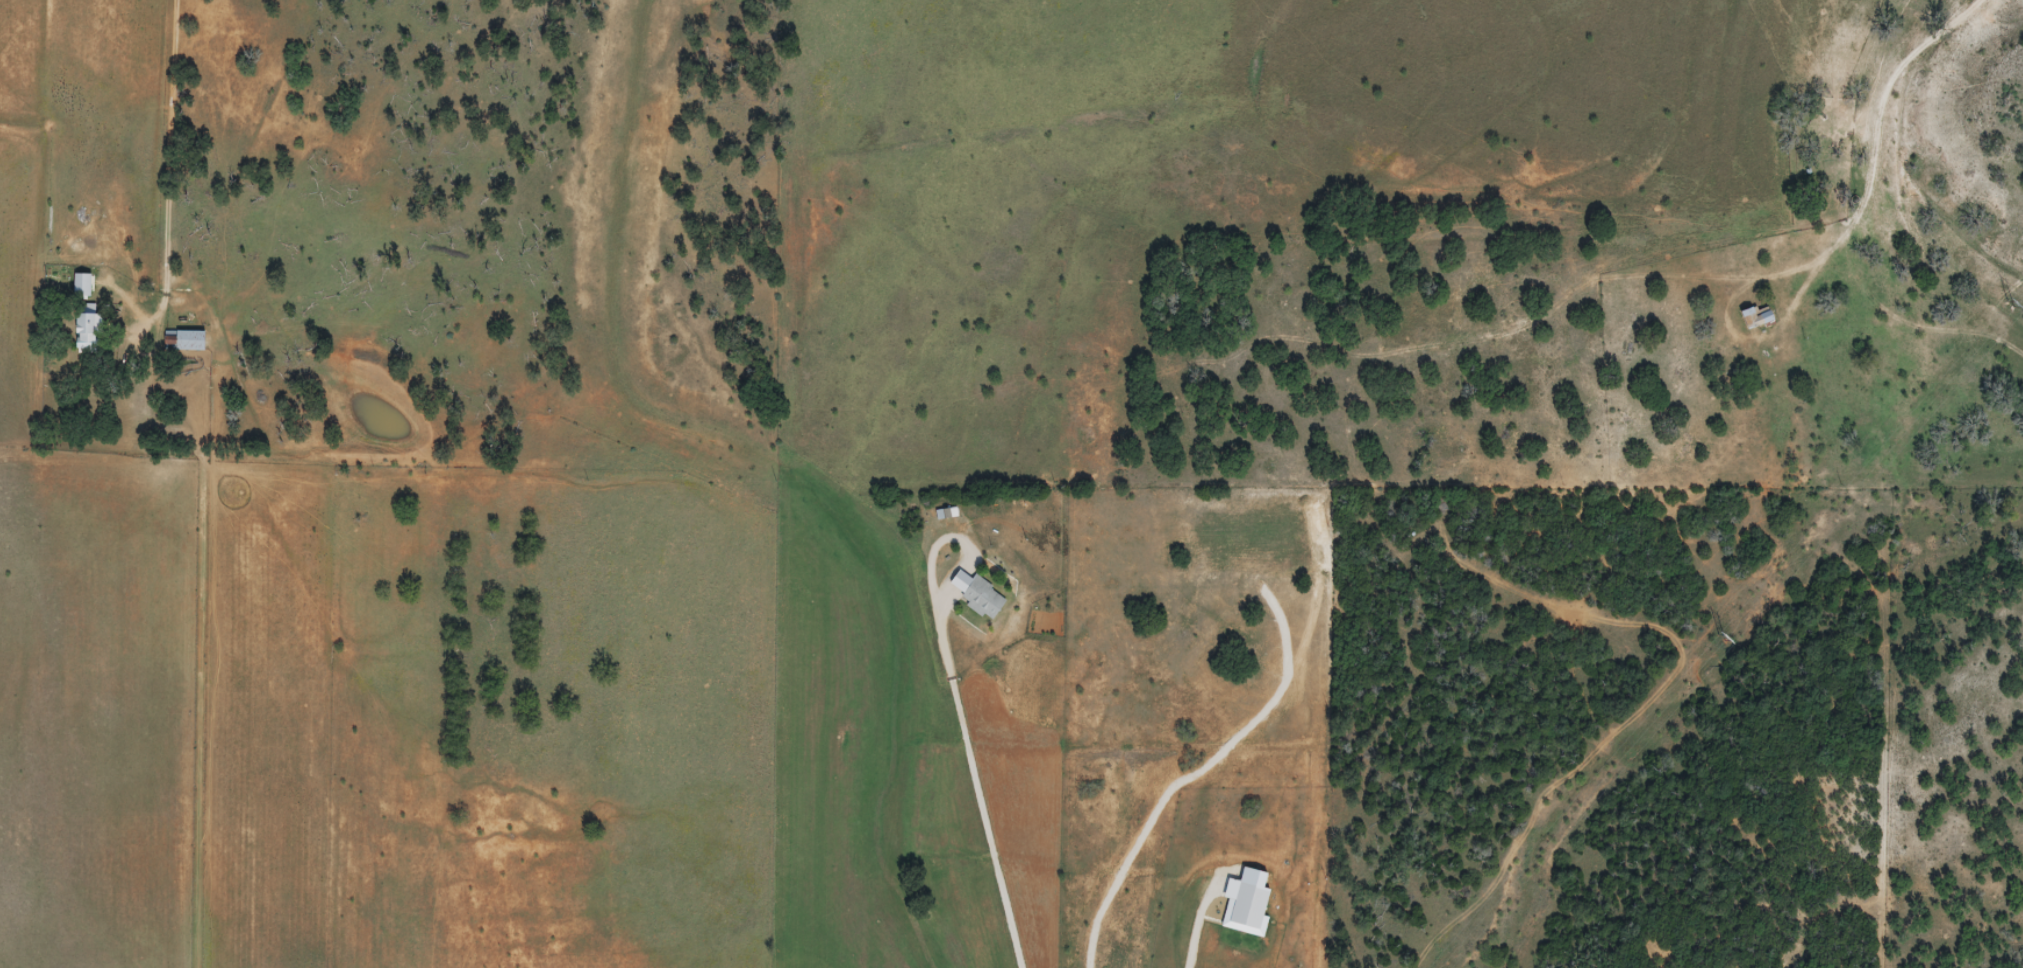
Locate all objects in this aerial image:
road: (1883, 99)
road: (180, 166)
power tower: (2007, 307)
building: (1756, 317)
building: (975, 595)
power tower: (1720, 639)

